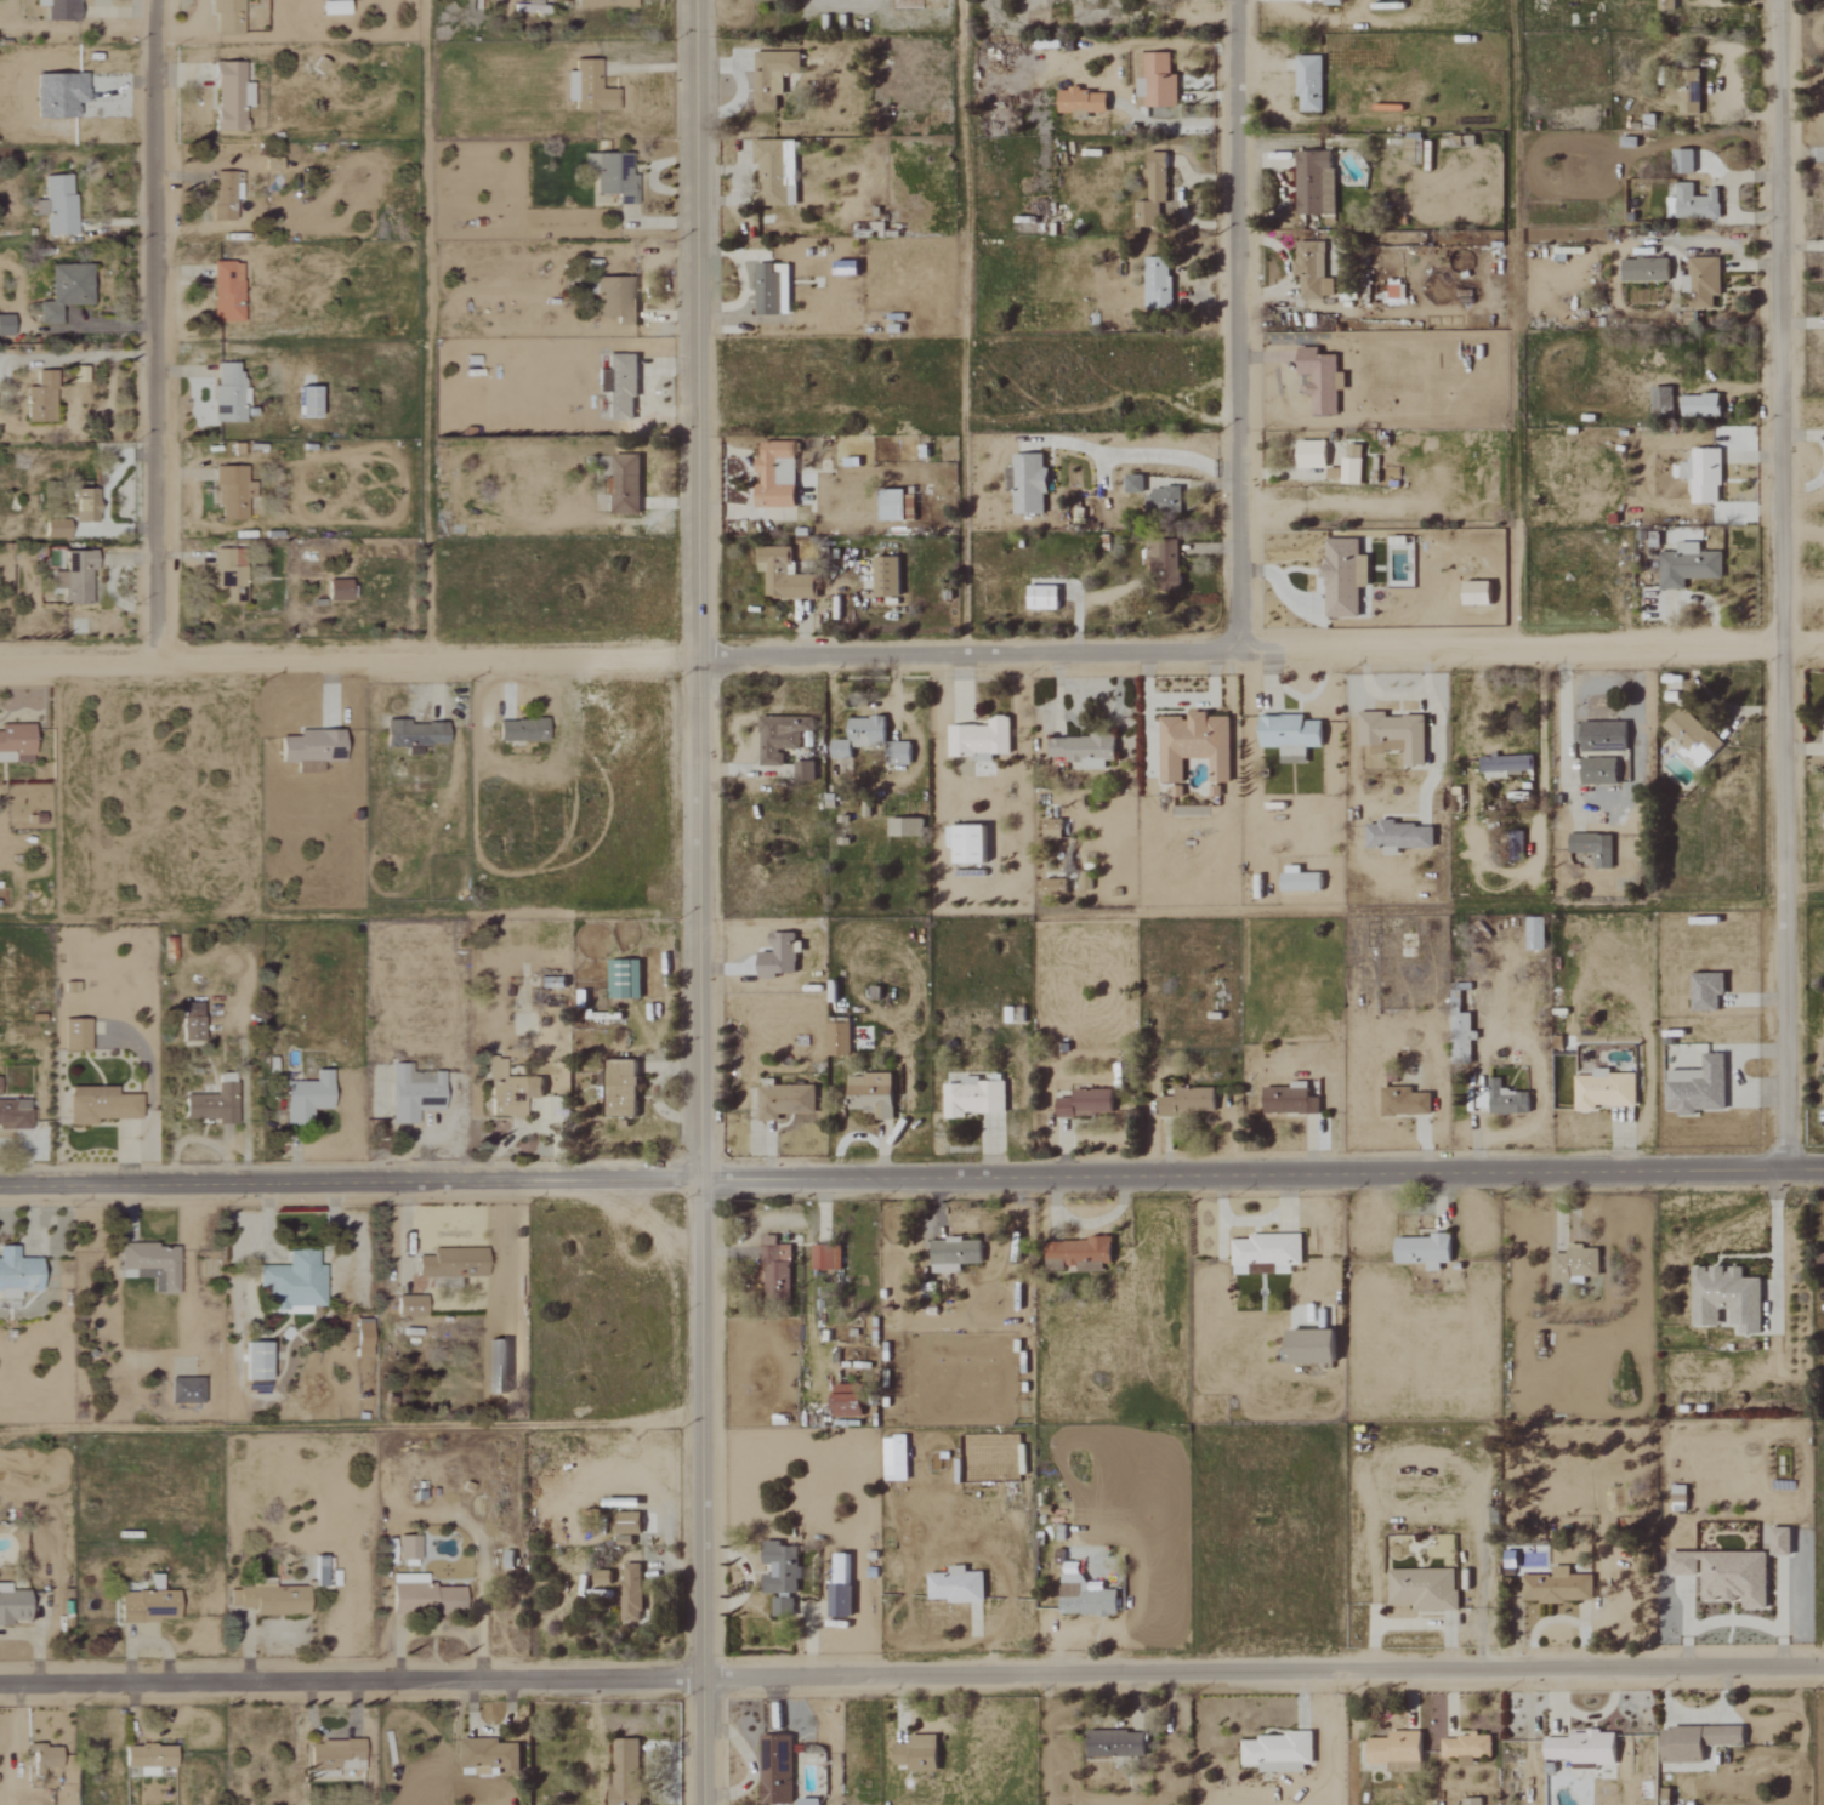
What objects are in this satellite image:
building: (530, 1)
building: (1330, 1)
building: (602, 2)
building: (330, 6)
building: (58, 10)
building: (225, 16)
building: (771, 75)
building: (1157, 80)
building: (1307, 84)
building: (590, 89)
building: (1688, 91)
building: (57, 95)
building: (227, 96)
building: (1080, 101)
building: (1681, 160)
building: (774, 171)
building: (610, 176)
building: (1313, 182)
building: (1152, 189)
building: (222, 197)
building: (1694, 201)
building: (57, 204)
building: (843, 267)
building: (1308, 268)
building: (1643, 269)
building: (1158, 281)
building: (1704, 281)
building: (1393, 287)
building: (769, 289)
building: (64, 290)
building: (225, 291)
building: (614, 298)
road: (1237, 323)
road: (964, 324)
building: (5, 325)
road: (427, 328)
road: (157, 329)
road: (78, 358)
building: (1319, 378)
building: (601, 381)
building: (620, 386)
road: (209, 388)
building: (227, 394)
building: (39, 398)
building: (1660, 400)
building: (303, 402)
building: (1698, 405)
building: (1309, 454)
road: (1143, 455)
building: (1349, 465)
building: (773, 474)
building: (1701, 476)
building: (1132, 483)
building: (624, 484)
building: (1027, 484)
building: (231, 491)
building: (1161, 501)
building: (83, 503)
building: (890, 506)
building: (53, 529)
building: (1163, 563)
building: (1686, 565)
building: (228, 575)
building: (780, 575)
building: (885, 576)
building: (74, 577)
building: (1342, 577)
road: (1779, 583)
building: (337, 591)
building: (1474, 592)
building: (1040, 597)
road: (1258, 644)
road: (347, 656)
road: (1377, 691)
road: (1540, 717)
road: (1436, 729)
building: (519, 730)
building: (411, 734)
building: (858, 735)
building: (1288, 735)
building: (1392, 735)
building: (1691, 735)
building: (1599, 736)
building: (778, 738)
building: (978, 739)
building: (15, 742)
building: (1193, 745)
building: (309, 750)
building: (1081, 750)
building: (897, 753)
building: (1504, 763)
building: (802, 770)
building: (1597, 771)
road: (1598, 804)
building: (904, 827)
building: (1047, 827)
building: (1398, 836)
building: (966, 844)
building: (1591, 847)
building: (1297, 879)
building: (1084, 881)
building: (1053, 886)
road: (698, 903)
building: (1534, 933)
building: (777, 956)
building: (623, 978)
building: (1705, 991)
building: (189, 1021)
building: (1460, 1027)
building: (75, 1035)
building: (836, 1040)
building: (1695, 1087)
building: (619, 1088)
building: (1603, 1089)
building: (508, 1091)
building: (411, 1094)
building: (869, 1094)
building: (972, 1097)
building: (305, 1098)
building: (782, 1099)
building: (1288, 1099)
building: (1505, 1099)
building: (1187, 1101)
building: (1403, 1101)
building: (1084, 1103)
building: (98, 1105)
building: (210, 1105)
building: (13, 1114)
road: (911, 1178)
building: (1421, 1251)
building: (1265, 1253)
building: (953, 1254)
building: (1075, 1254)
building: (824, 1258)
building: (451, 1263)
building: (772, 1263)
building: (1819, 1263)
building: (1574, 1264)
building: (149, 1266)
building: (16, 1274)
building: (291, 1283)
building: (1724, 1298)
building: (409, 1305)
building: (360, 1338)
building: (1307, 1348)
building: (254, 1362)
building: (184, 1391)
building: (845, 1400)
building: (1677, 1492)
building: (624, 1526)
building: (1779, 1541)
building: (405, 1547)
building: (839, 1567)
building: (317, 1571)
building: (1723, 1573)
building: (778, 1575)
building: (600, 1577)
building: (955, 1584)
building: (1555, 1585)
building: (1421, 1588)
building: (629, 1592)
building: (1083, 1593)
building: (424, 1598)
building: (268, 1599)
building: (837, 1599)
building: (12, 1605)
building: (146, 1606)
road: (1261, 1675)
road: (350, 1685)
building: (1693, 1741)
building: (1113, 1743)
building: (1464, 1747)
building: (1579, 1747)
building: (1394, 1750)
building: (1277, 1752)
building: (915, 1753)
building: (334, 1755)
building: (488, 1756)
building: (45, 1758)
building: (147, 1758)
building: (773, 1770)
building: (624, 1771)

